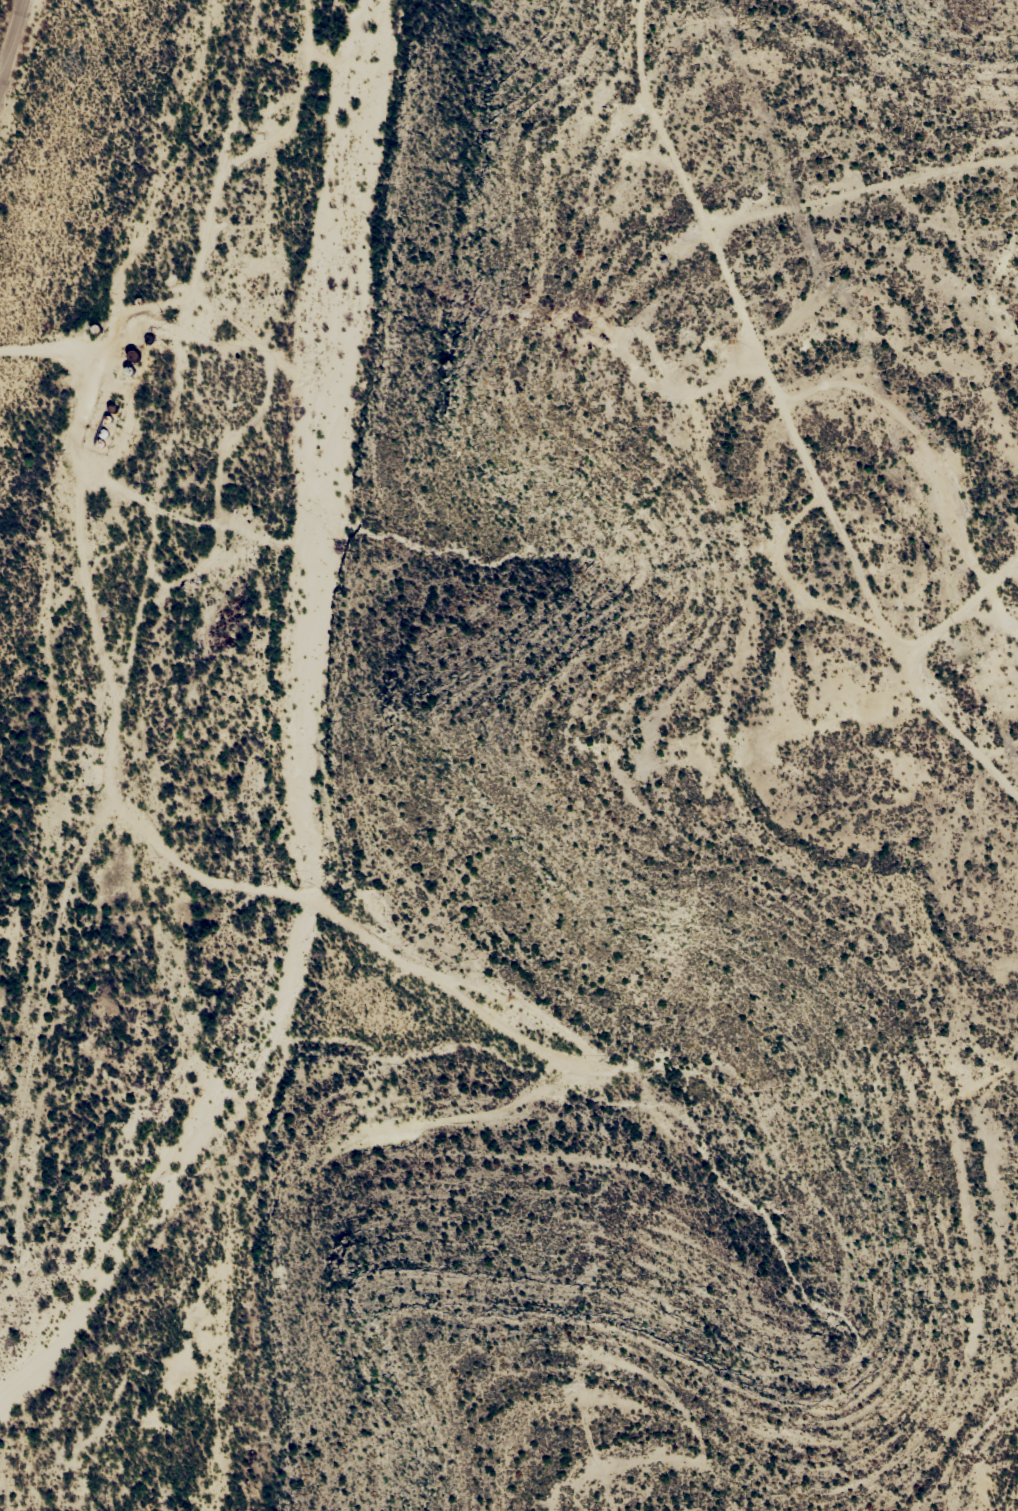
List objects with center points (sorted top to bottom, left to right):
road: (7, 26)
road: (916, 683)
road: (397, 1003)

